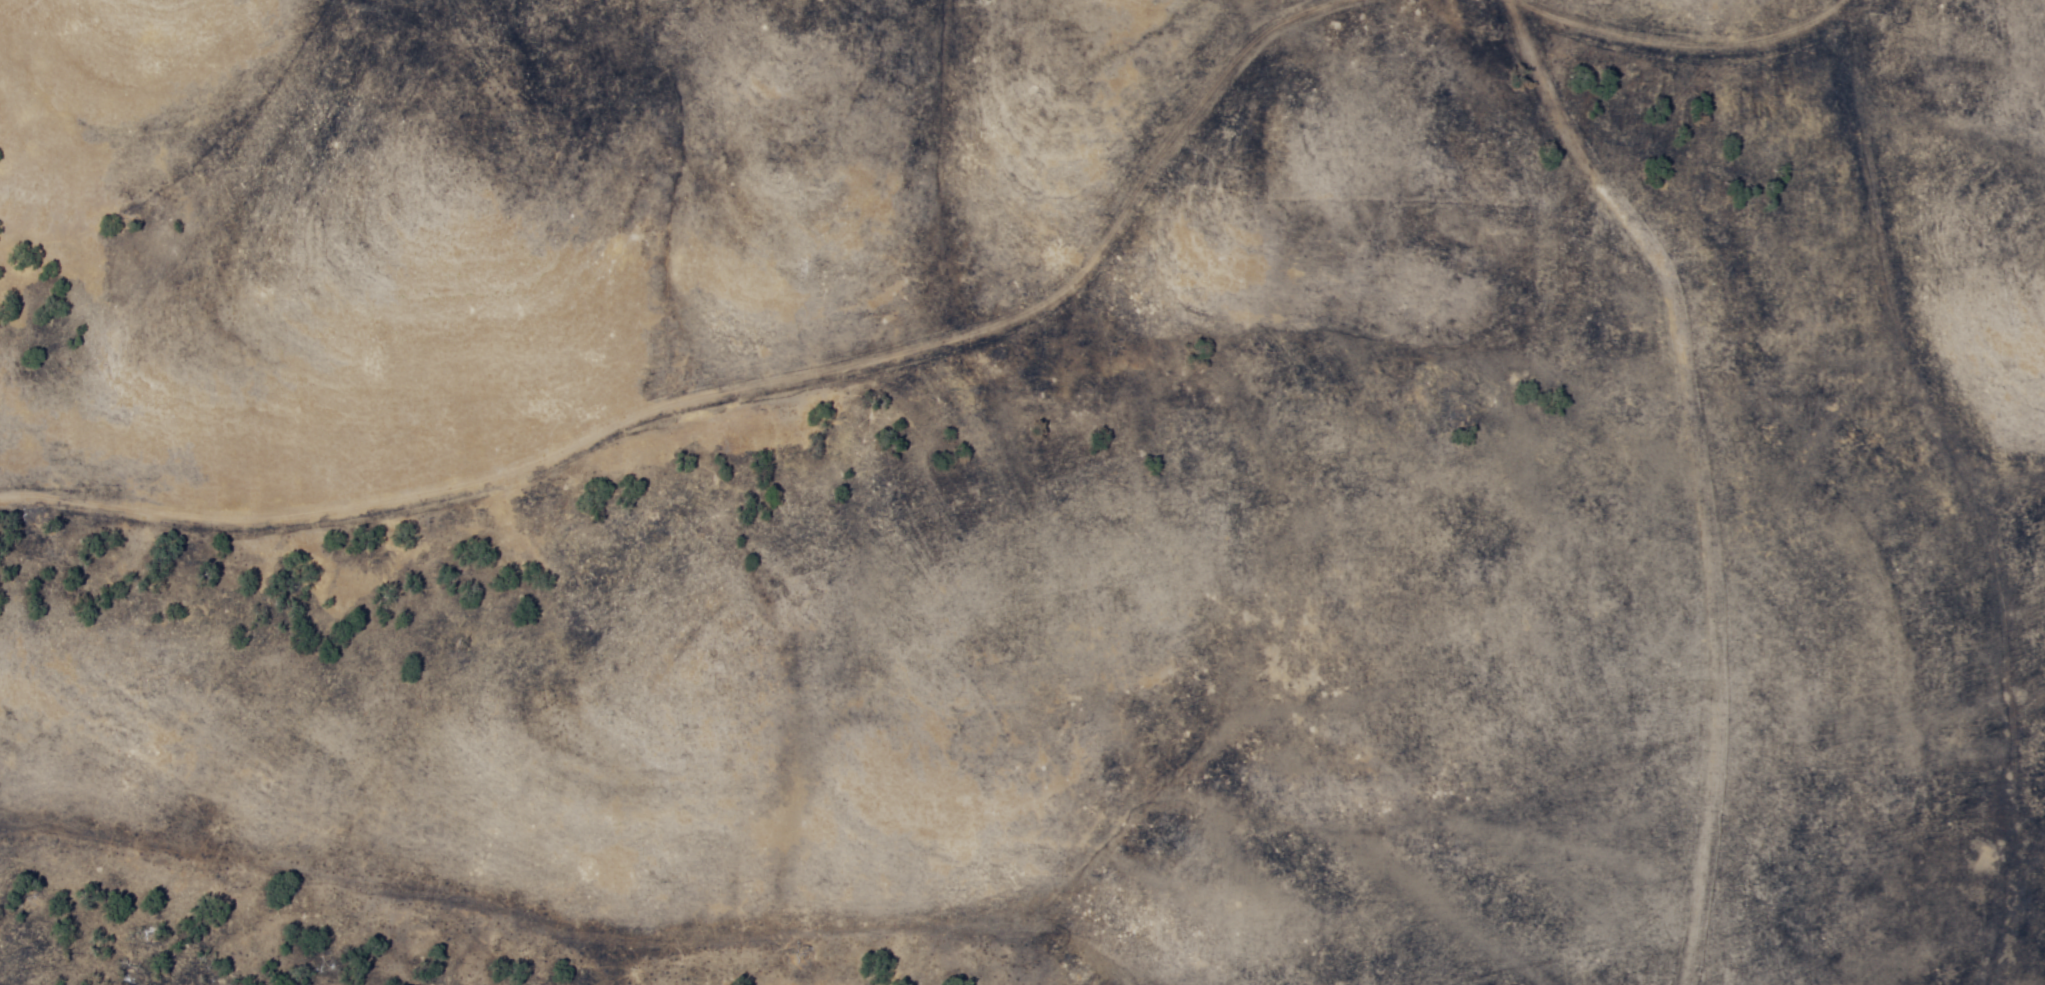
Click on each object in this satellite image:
road: (1847, 7)
road: (1720, 46)
road: (726, 389)
road: (1689, 472)

